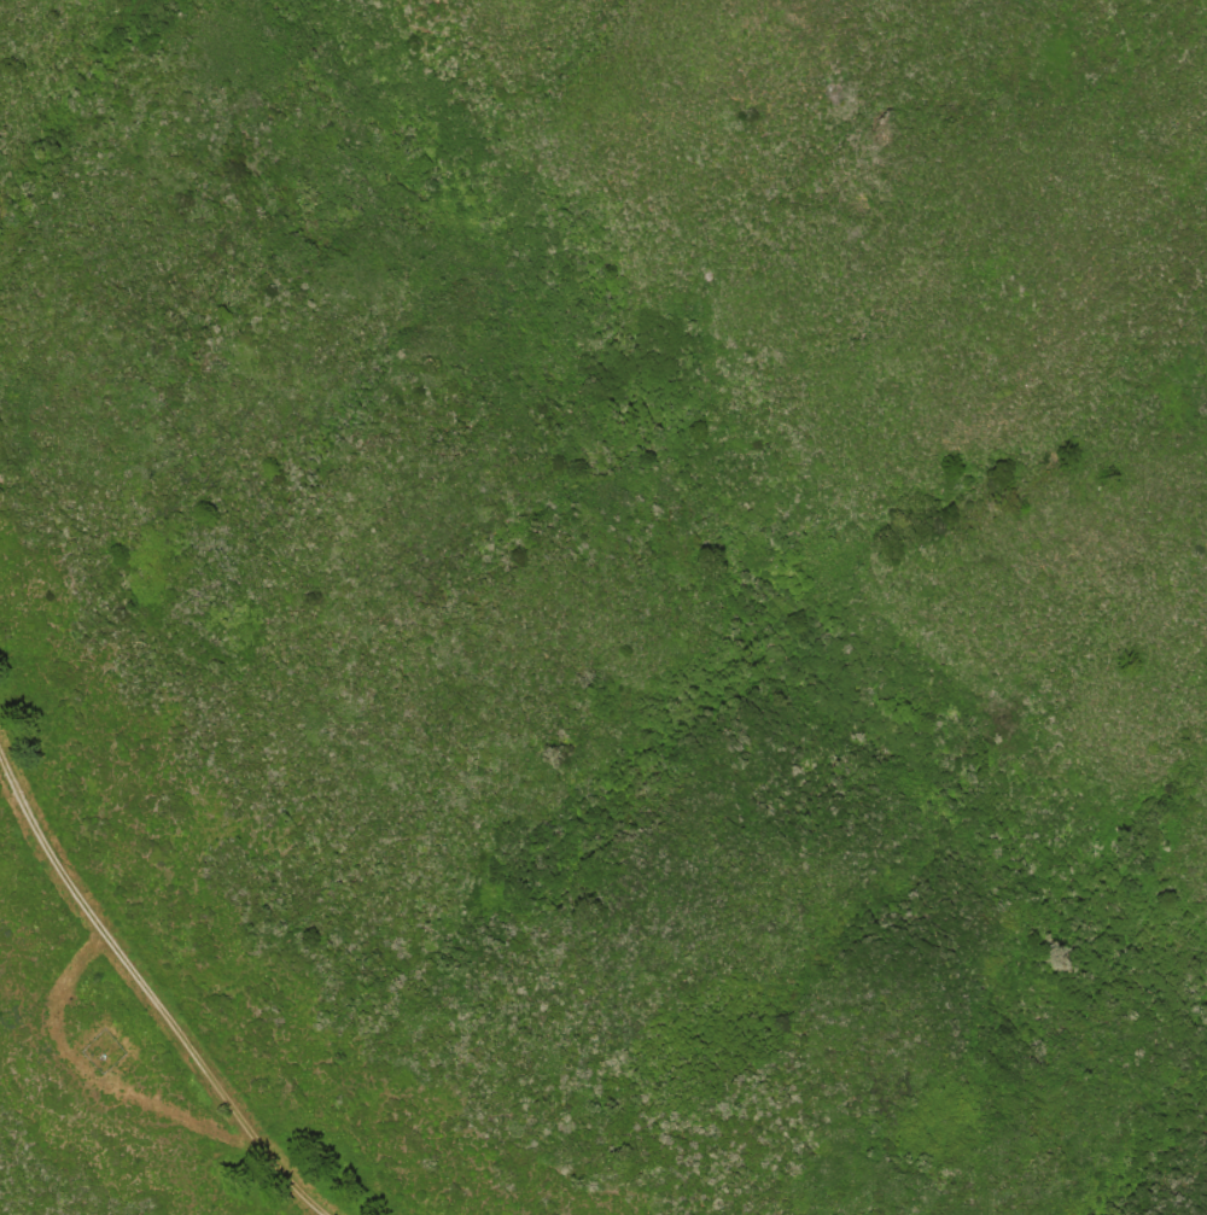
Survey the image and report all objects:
road: (151, 1001)

